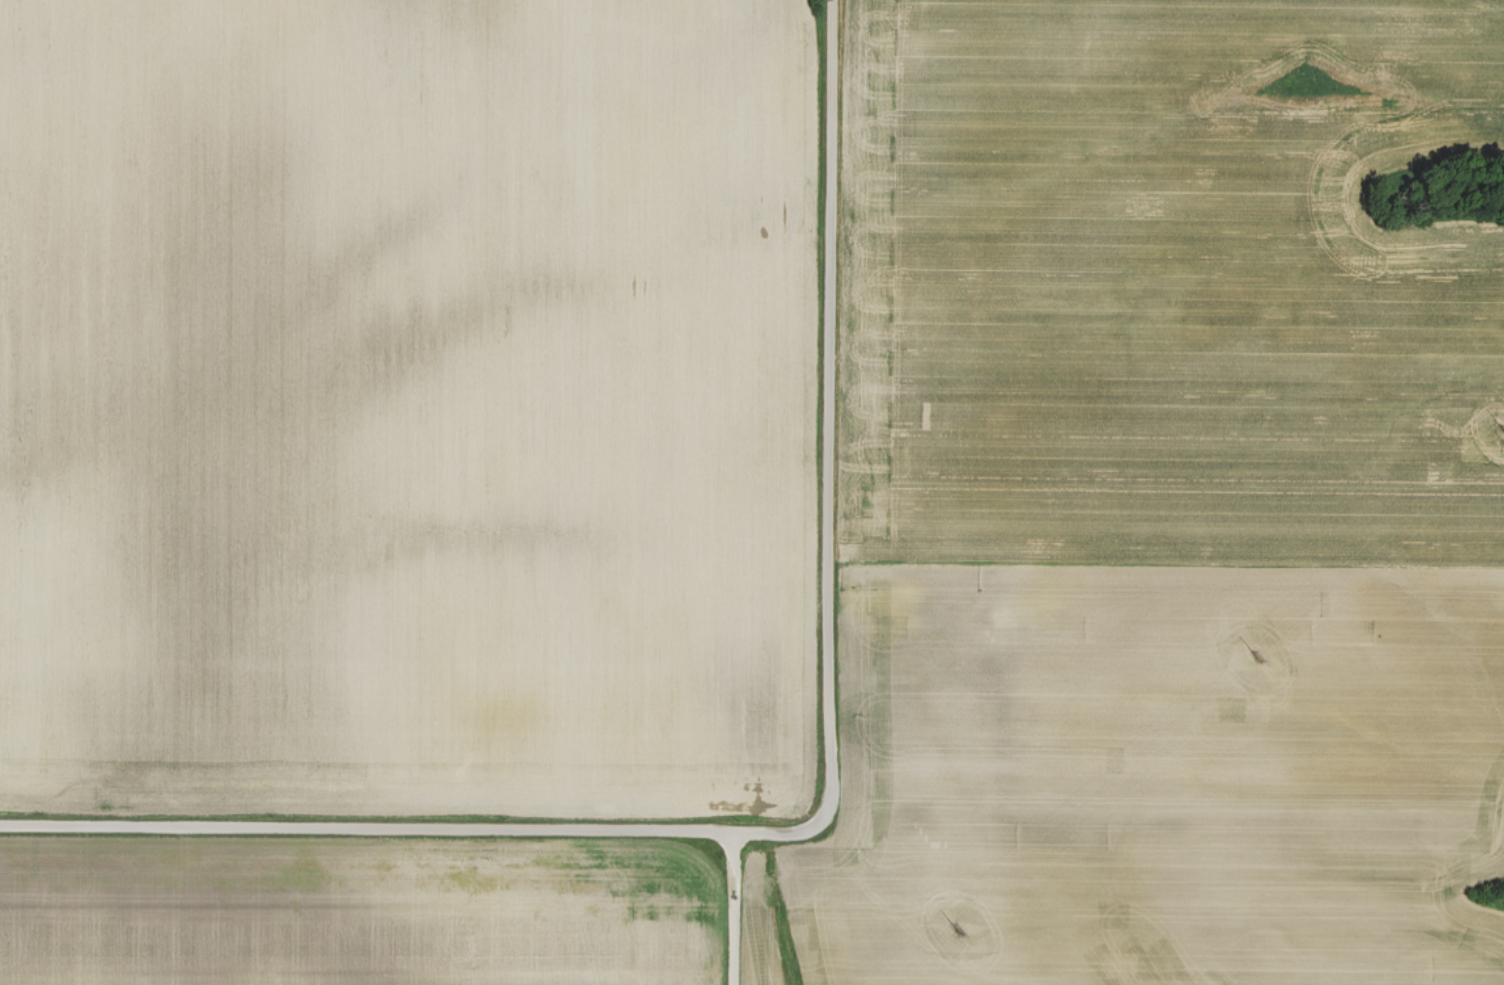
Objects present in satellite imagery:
road: (827, 406)
power tower: (1256, 658)
road: (417, 828)
road: (734, 909)
power tower: (954, 929)

